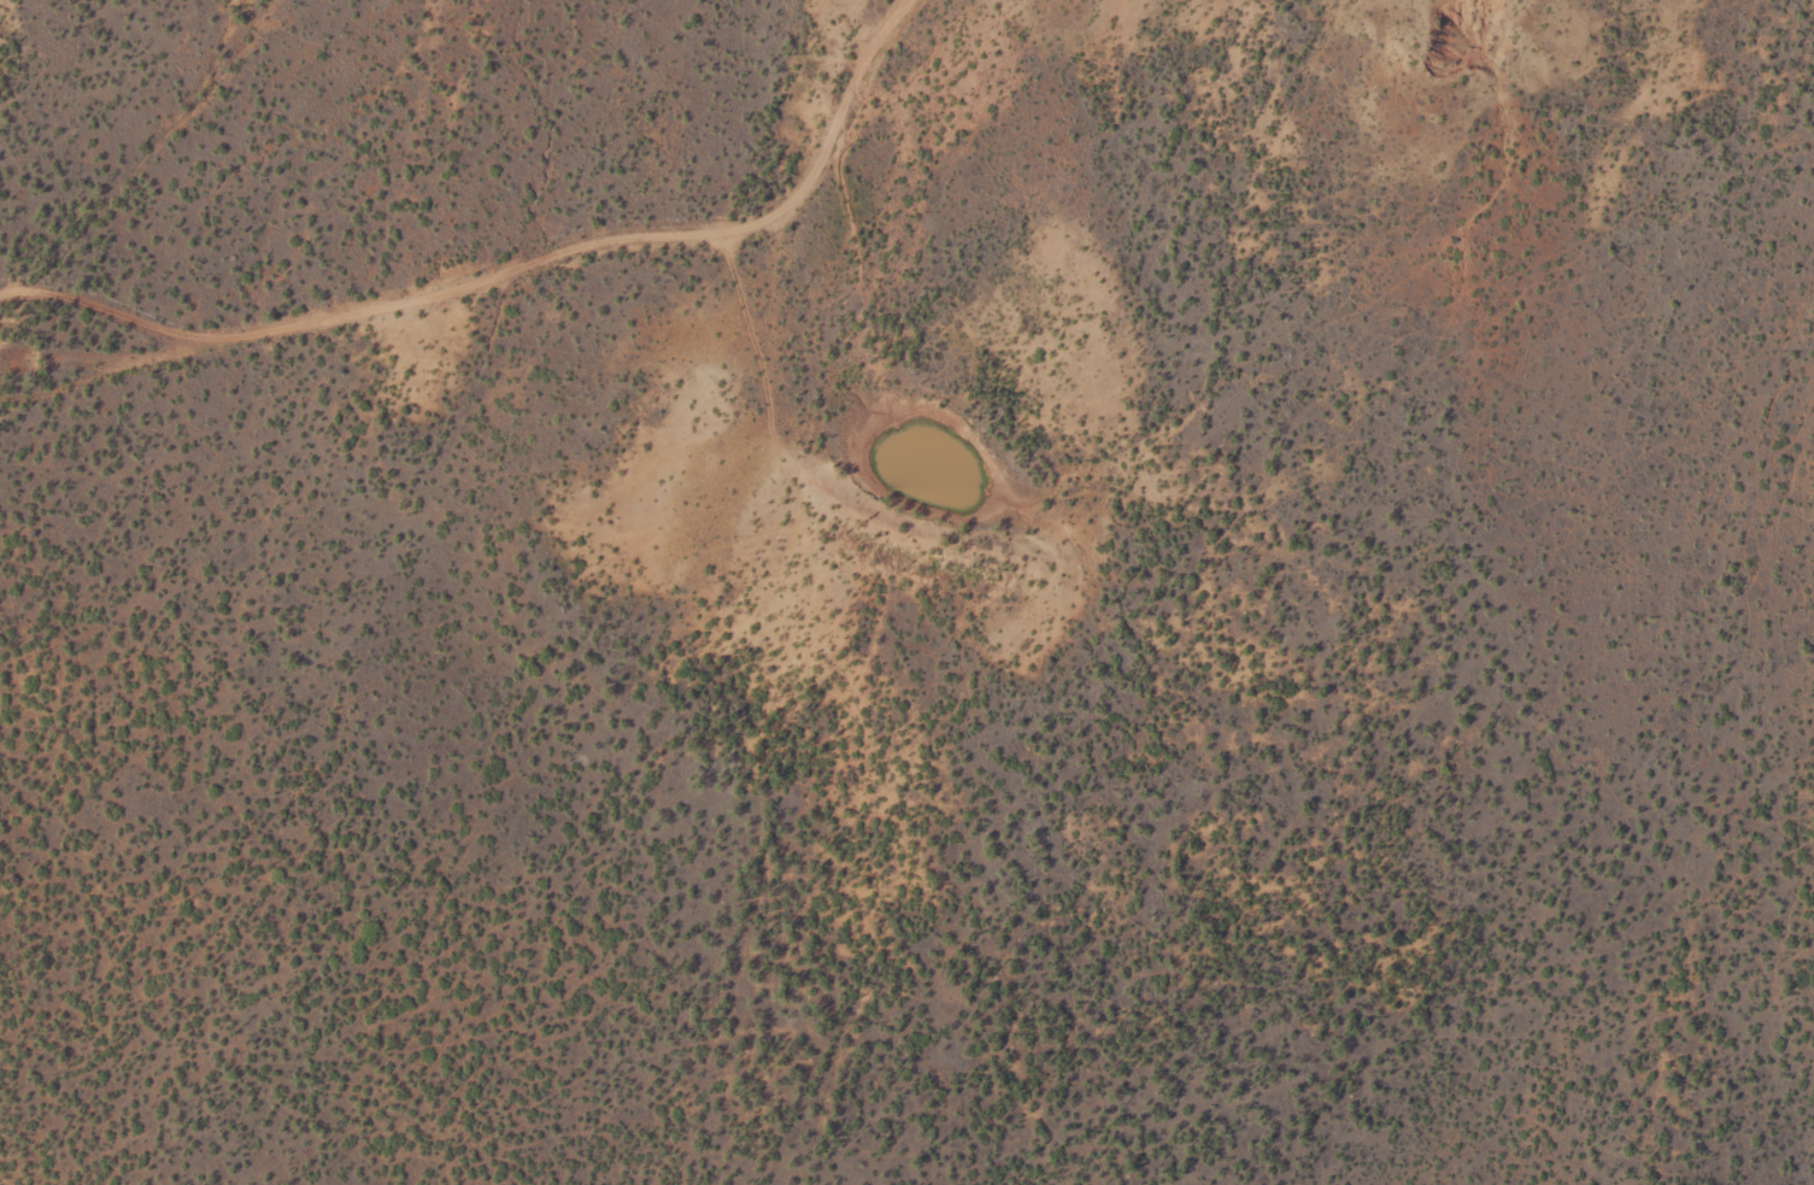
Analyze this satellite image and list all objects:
road: (382, 318)

